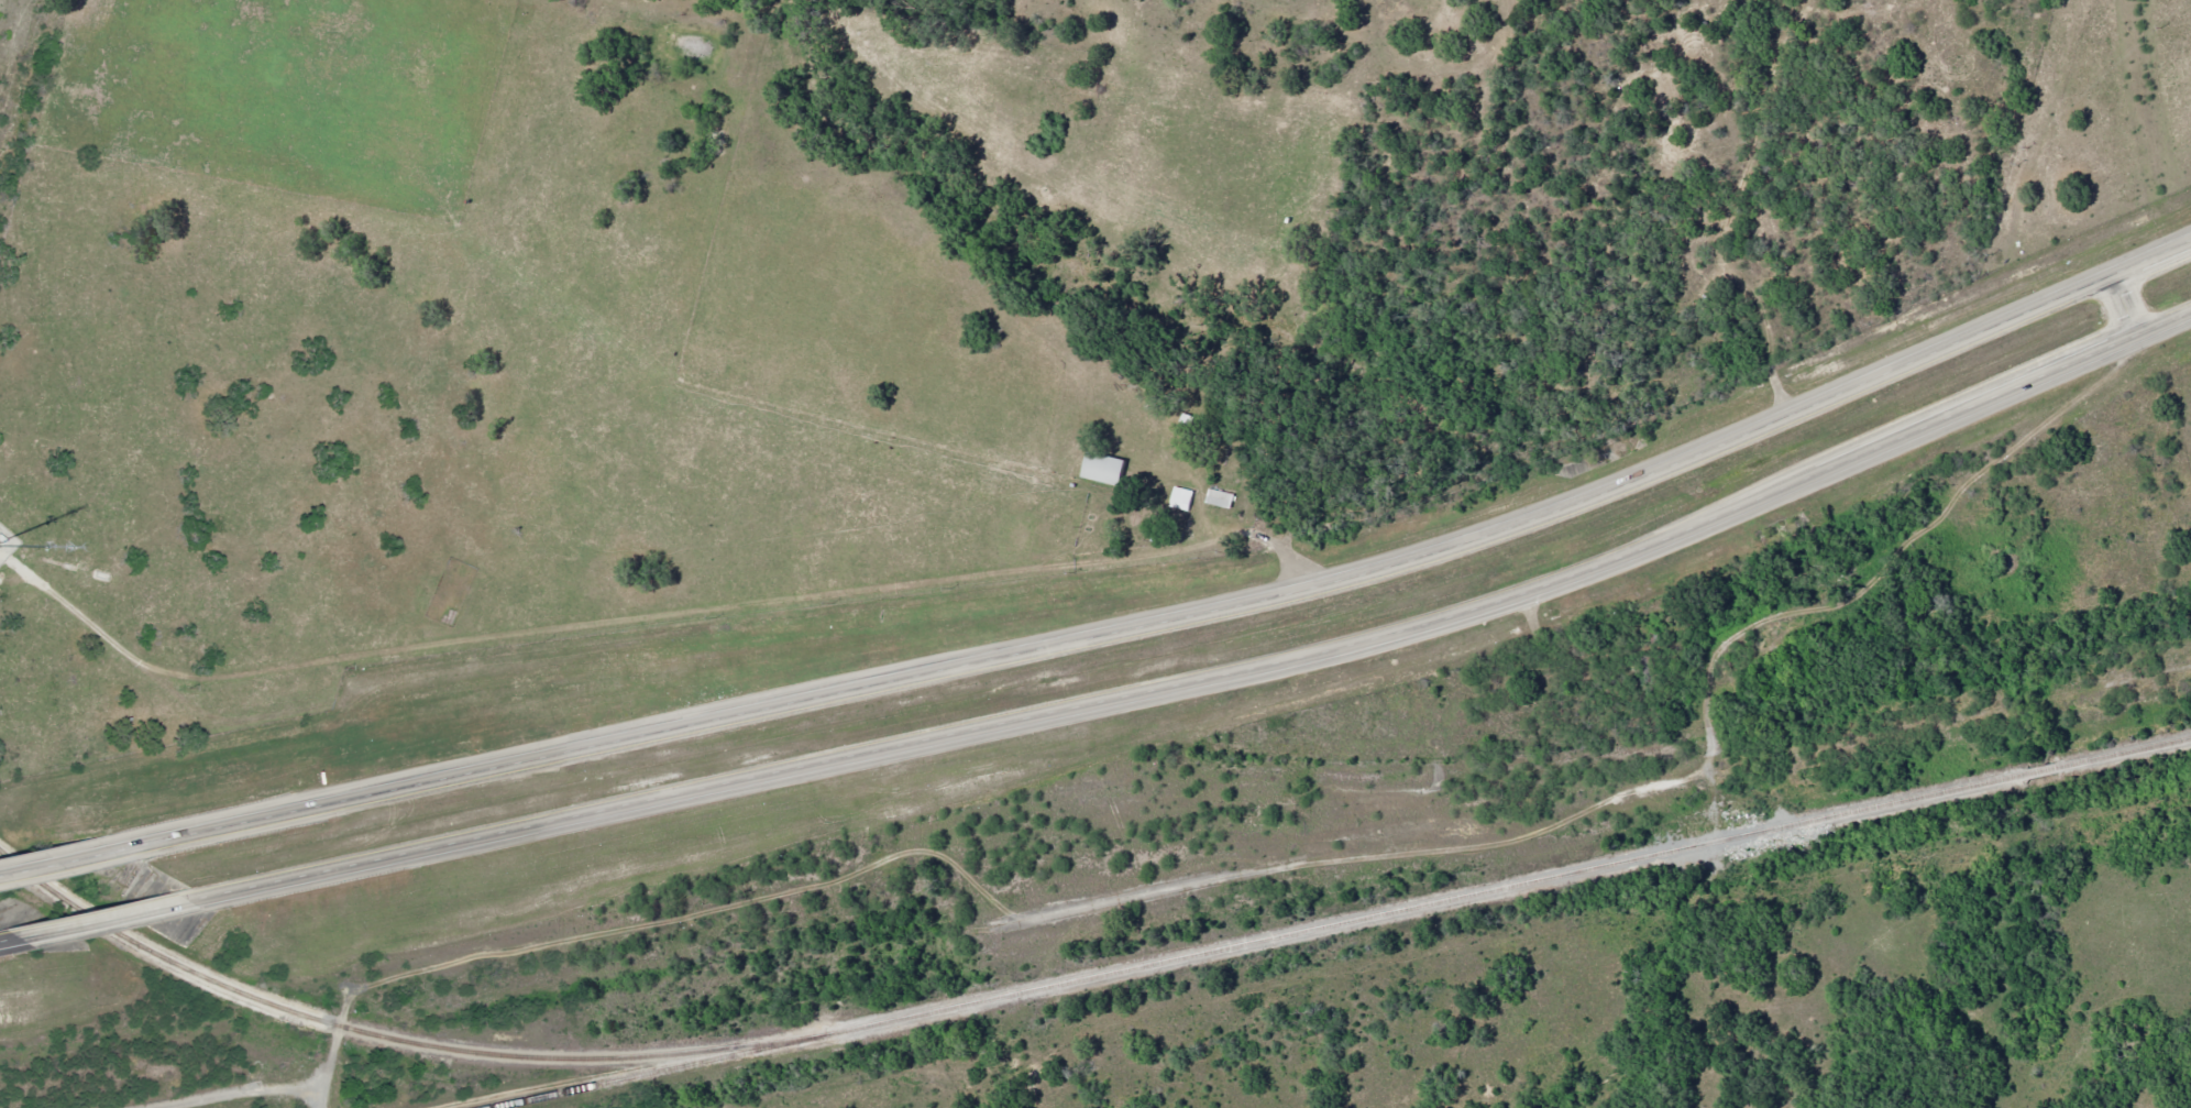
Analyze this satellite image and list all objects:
building: (1187, 423)
building: (1101, 469)
building: (1180, 498)
building: (1219, 498)
building: (458, 572)
road: (1185, 621)
road: (1212, 679)
road: (67, 863)
railway: (1511, 885)
road: (100, 920)
road: (7, 940)
railway: (393, 1038)
railway: (654, 1071)

